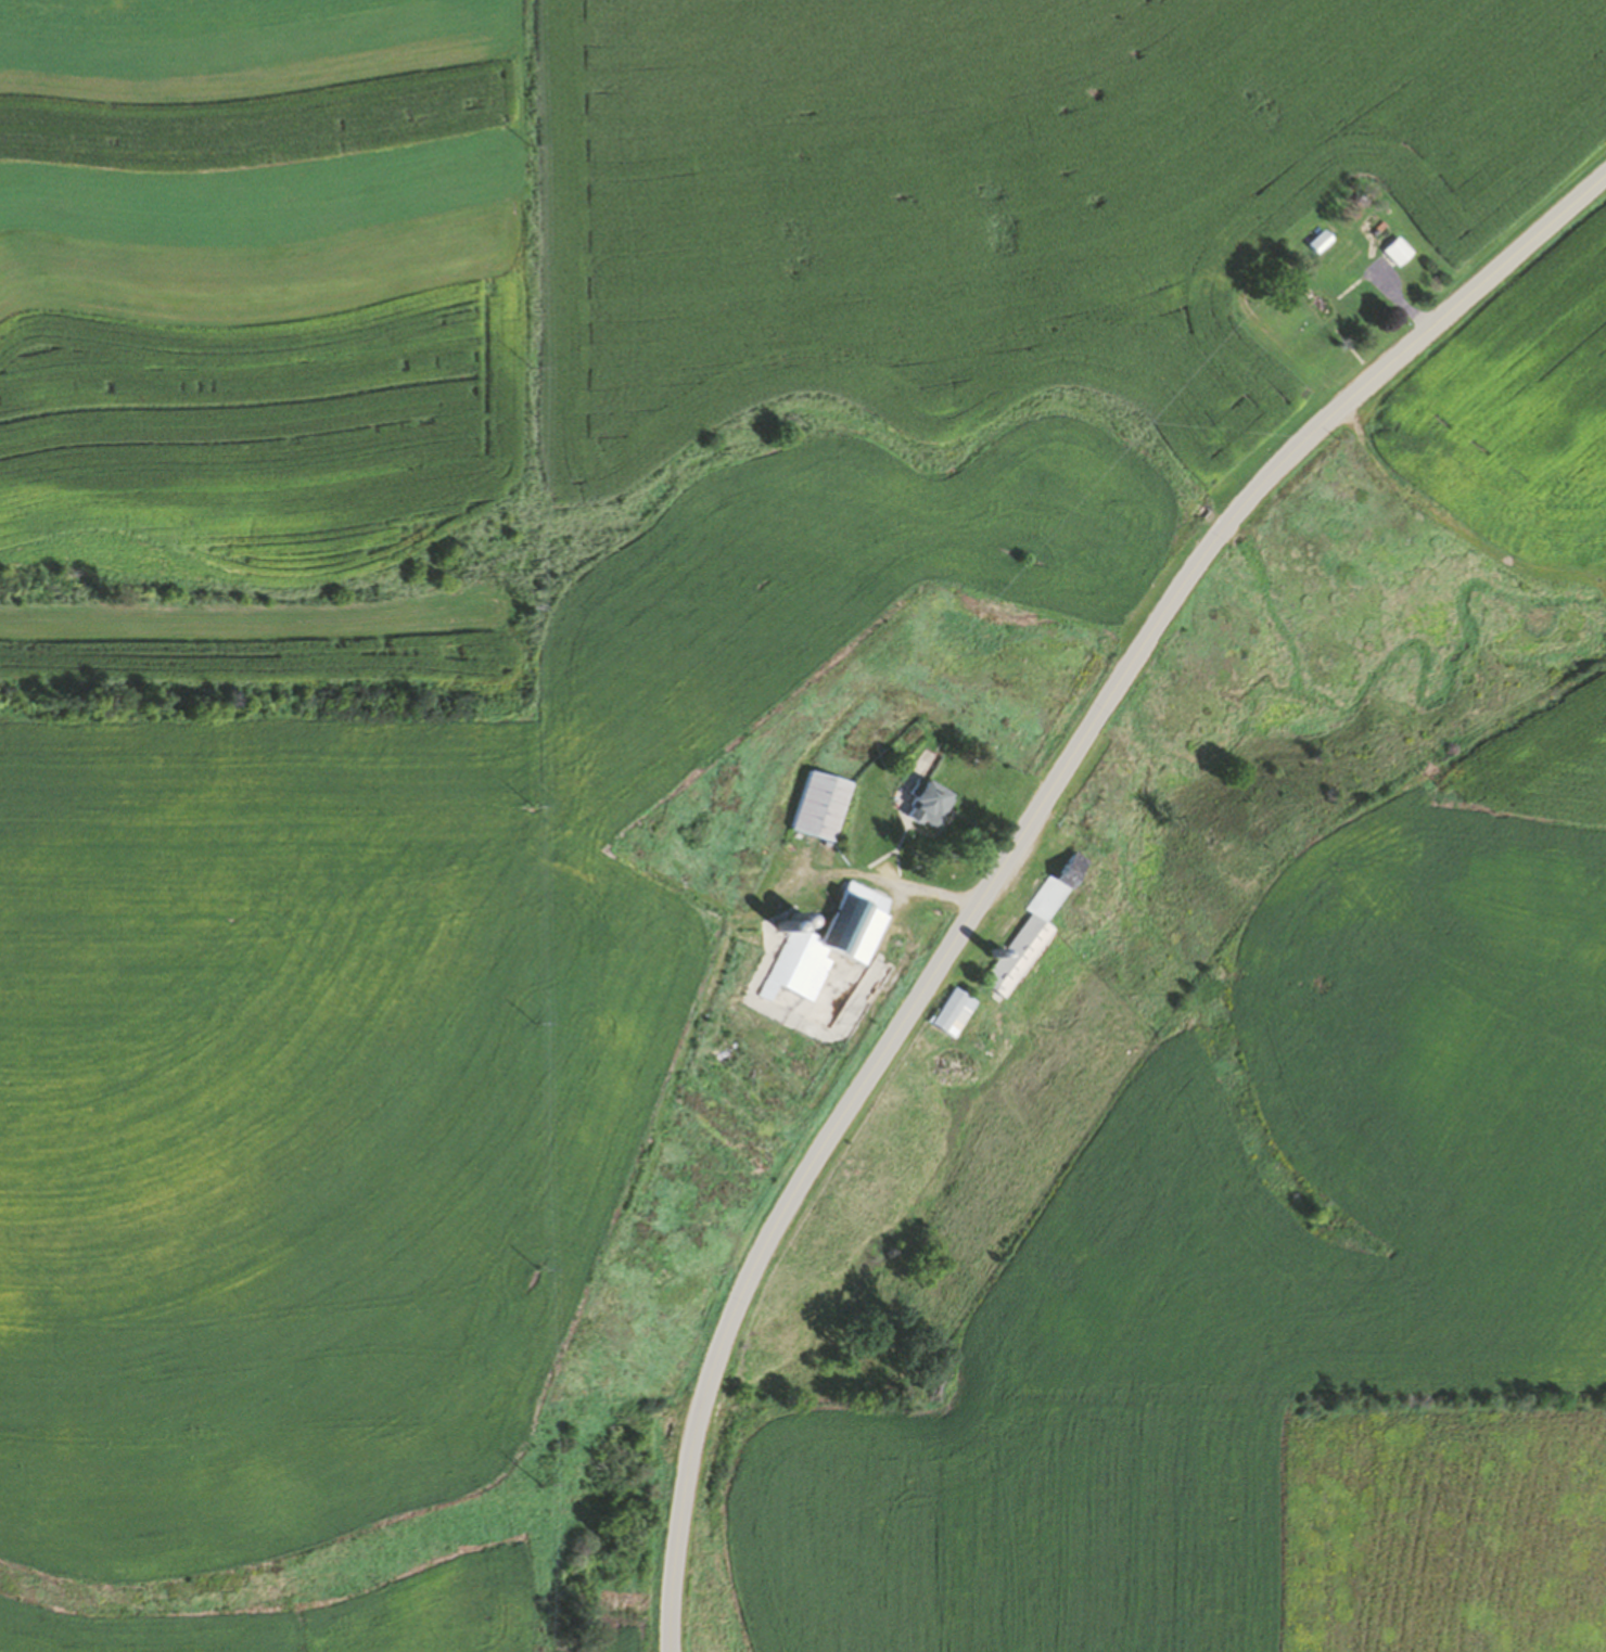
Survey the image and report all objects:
building: (1311, 242)
building: (1391, 252)
building: (1317, 308)
road: (515, 336)
building: (920, 804)
building: (815, 808)
road: (587, 833)
road: (1016, 841)
road: (887, 884)
building: (1023, 929)
building: (824, 944)
building: (944, 1012)

